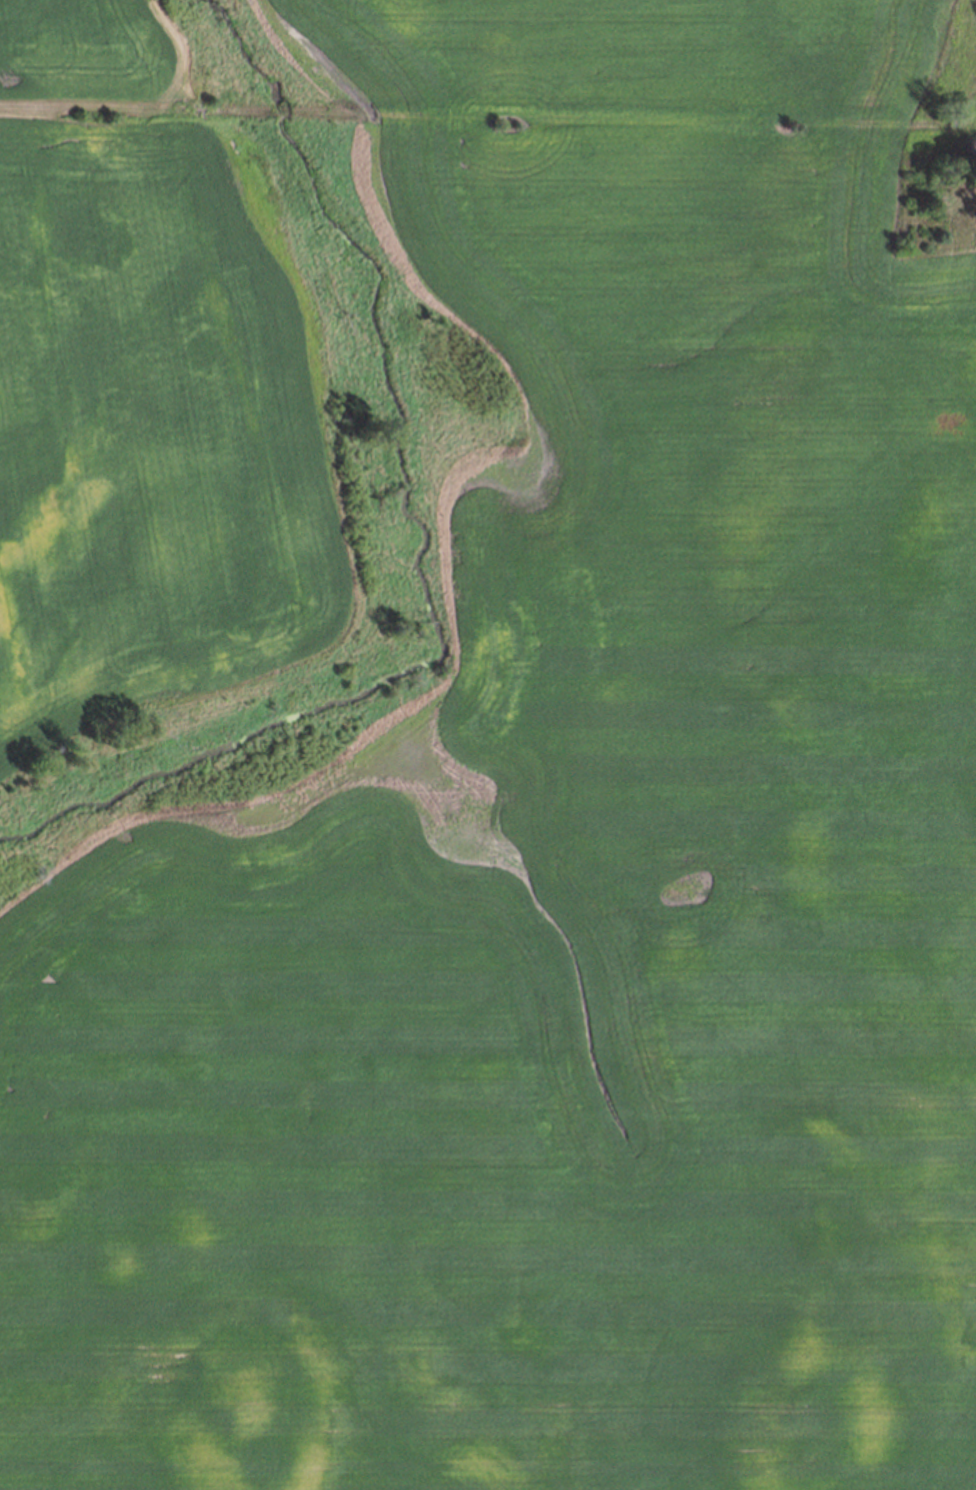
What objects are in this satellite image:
road: (487, 116)

